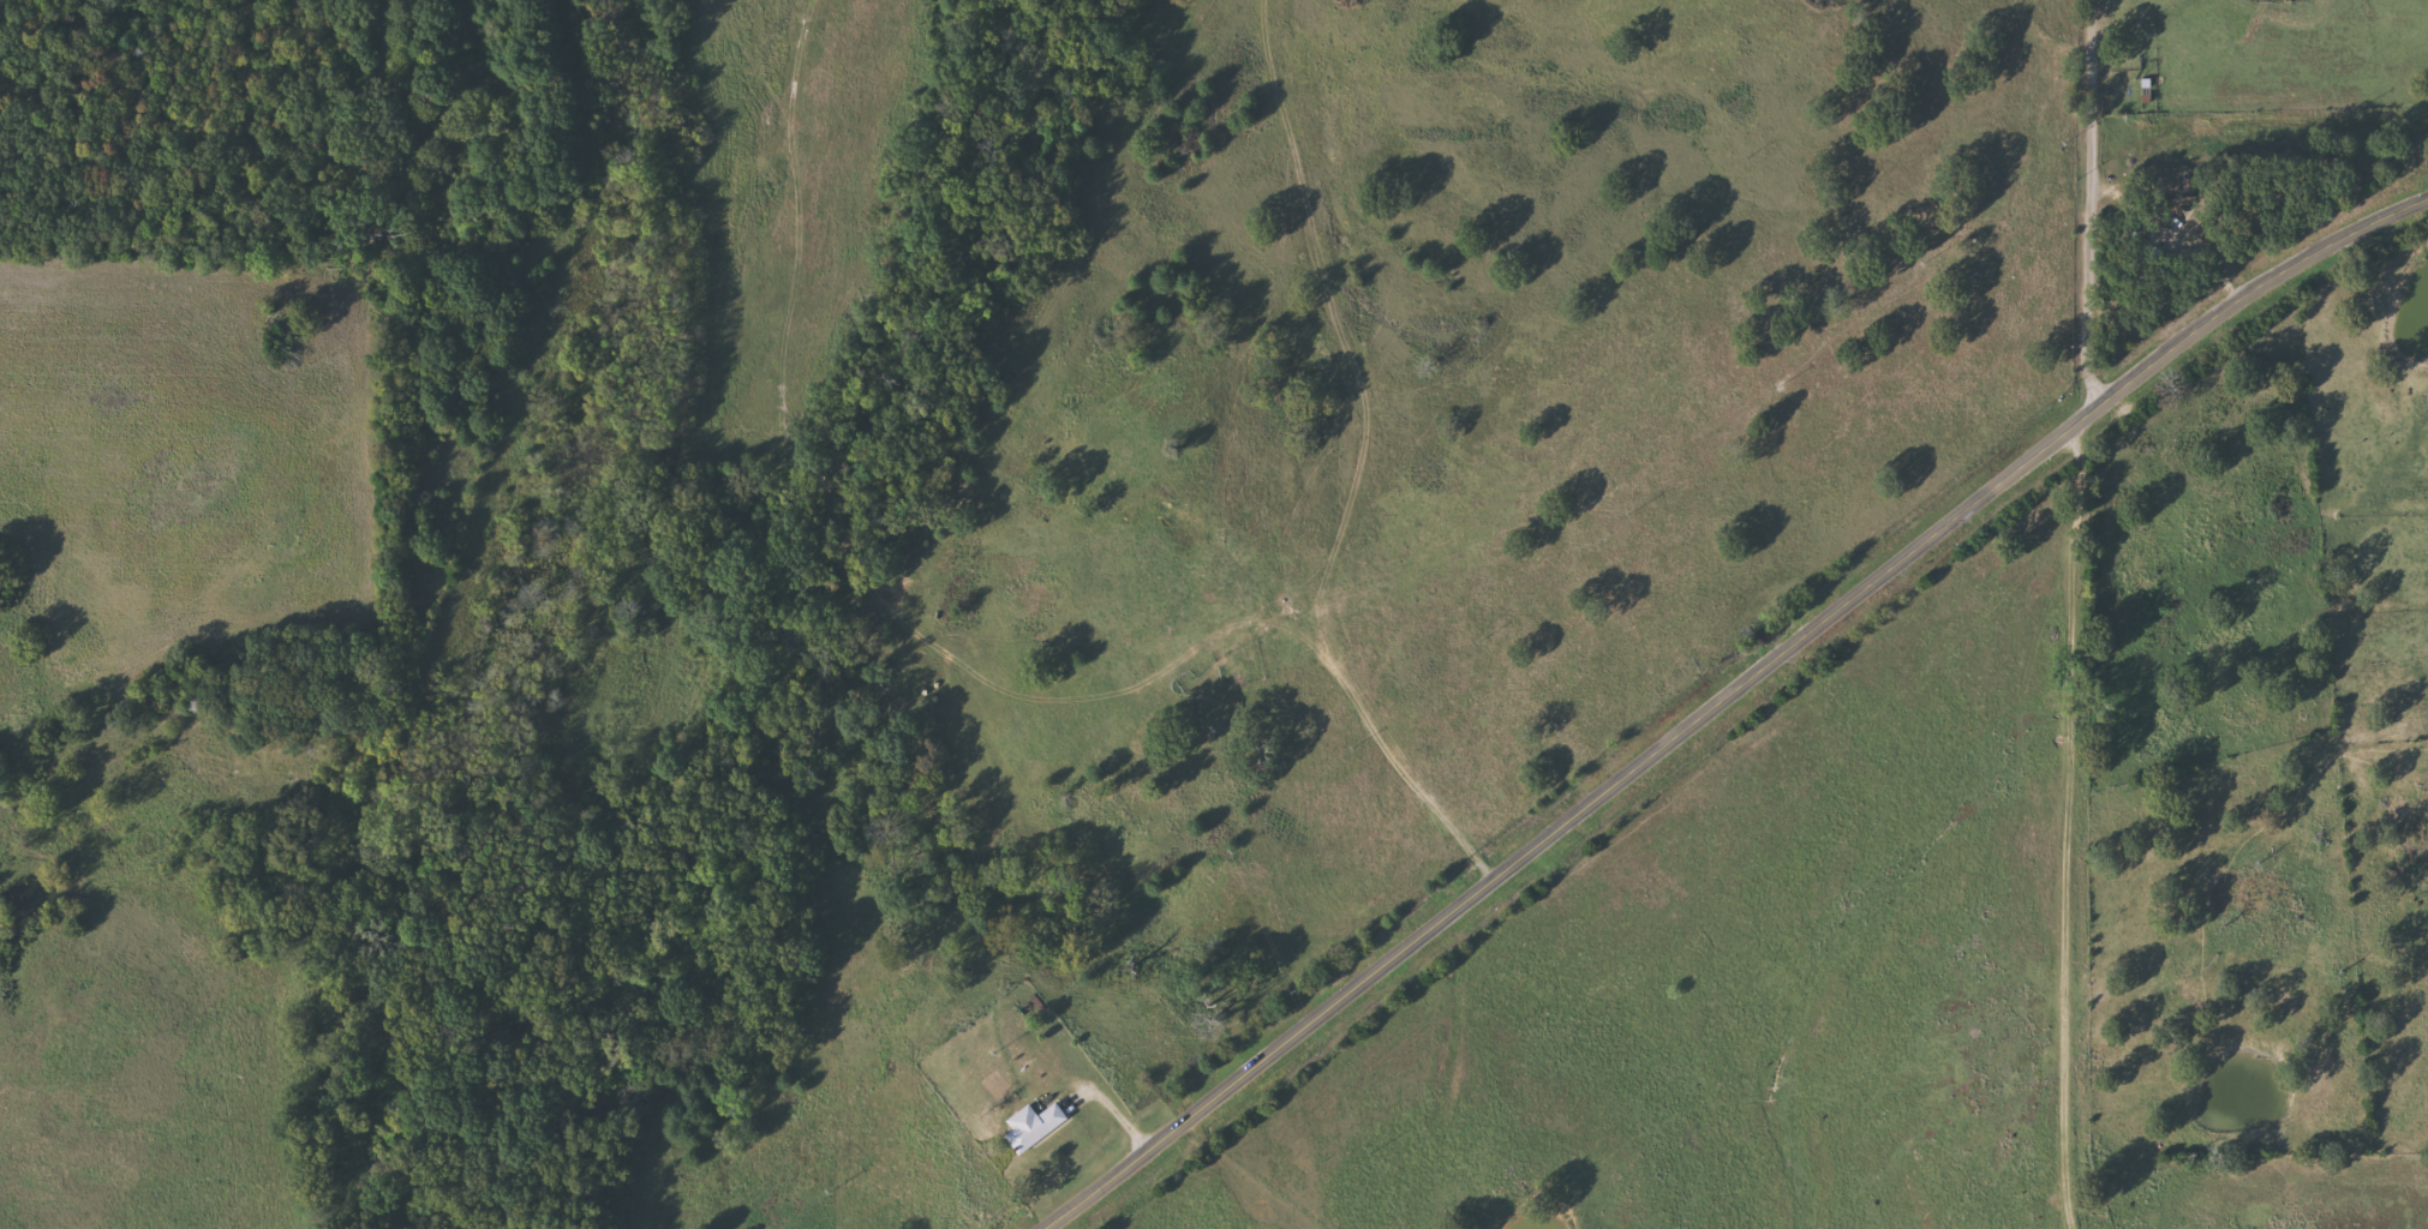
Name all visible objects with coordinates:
road: (2044, 41)
building: (2178, 198)
road: (2092, 200)
road: (1716, 695)
road: (2068, 821)
building: (1036, 1125)

